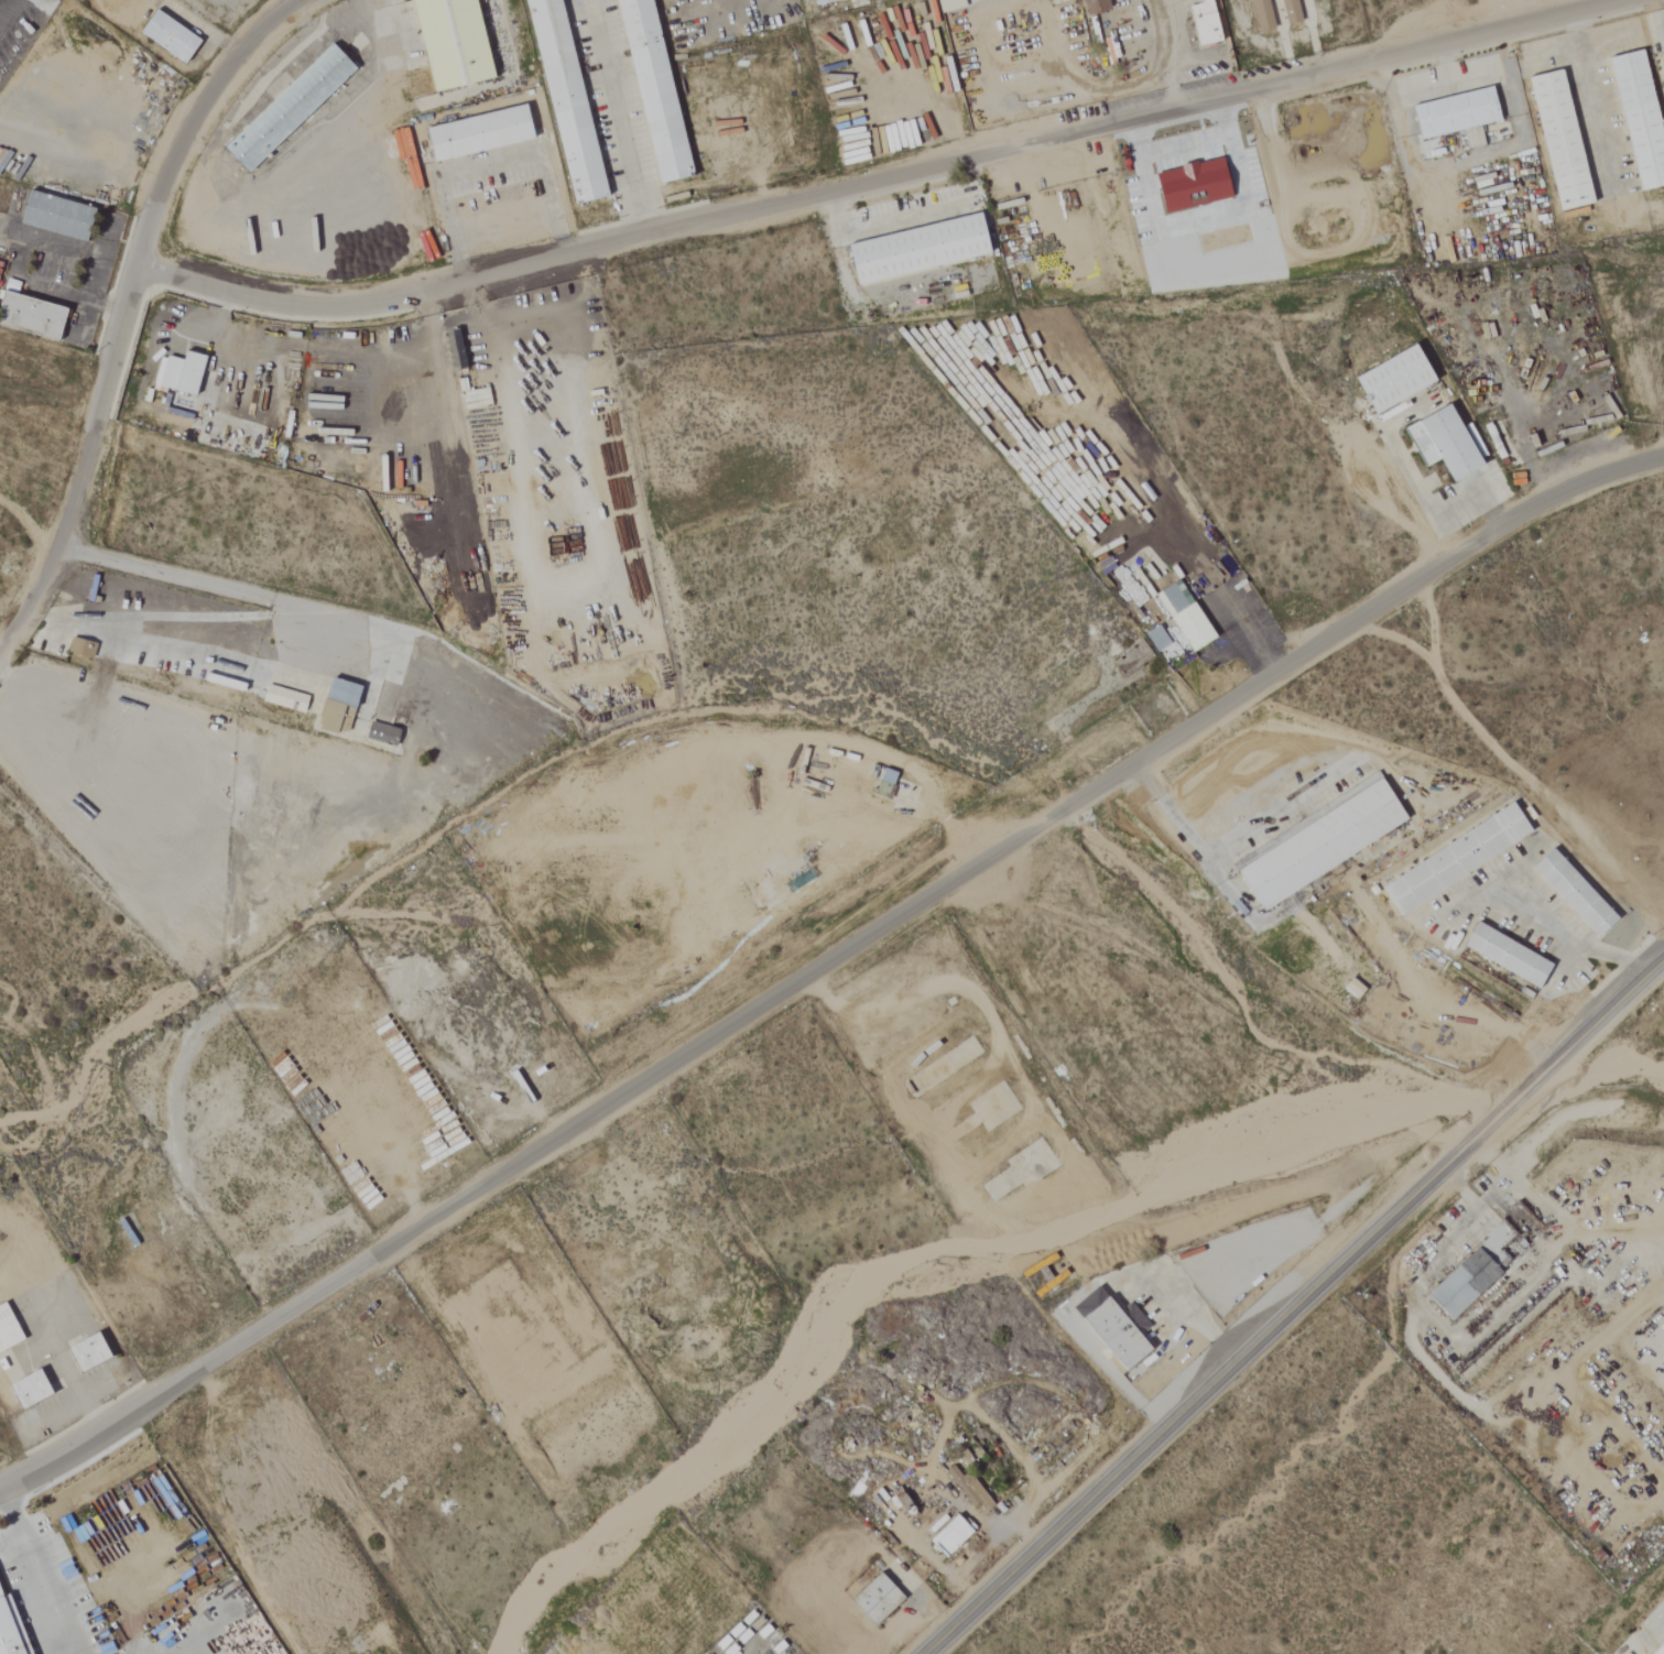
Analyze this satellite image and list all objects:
building: (817, 1)
building: (947, 4)
road: (3, 6)
building: (1092, 7)
building: (1287, 11)
building: (1259, 15)
building: (1200, 23)
road: (324, 33)
building: (173, 36)
road: (1156, 41)
building: (457, 42)
building: (1660, 63)
building: (657, 88)
road: (1173, 96)
road: (377, 99)
building: (570, 99)
road: (1590, 100)
building: (293, 106)
building: (1453, 117)
road: (623, 118)
building: (1635, 121)
building: (483, 132)
building: (1555, 141)
road: (487, 165)
road: (875, 181)
building: (62, 216)
road: (887, 219)
building: (912, 250)
road: (123, 306)
building: (34, 314)
building: (183, 372)
building: (1388, 381)
building: (1437, 444)
road: (207, 585)
building: (1181, 617)
building: (1153, 639)
building: (84, 648)
building: (342, 706)
building: (385, 734)
building: (888, 783)
road: (1231, 834)
building: (1316, 845)
building: (1451, 858)
building: (1569, 892)
road: (1566, 940)
building: (1502, 955)
road: (825, 959)
building: (1350, 988)
road: (1466, 1216)
road: (1293, 1306)
building: (10, 1327)
building: (1106, 1329)
building: (93, 1351)
building: (33, 1389)
road: (77, 1399)
building: (966, 1488)
road: (14, 1514)
building: (946, 1537)
road: (47, 1591)
building: (872, 1599)
building: (10, 1623)
road: (1641, 1629)
building: (1658, 1647)

